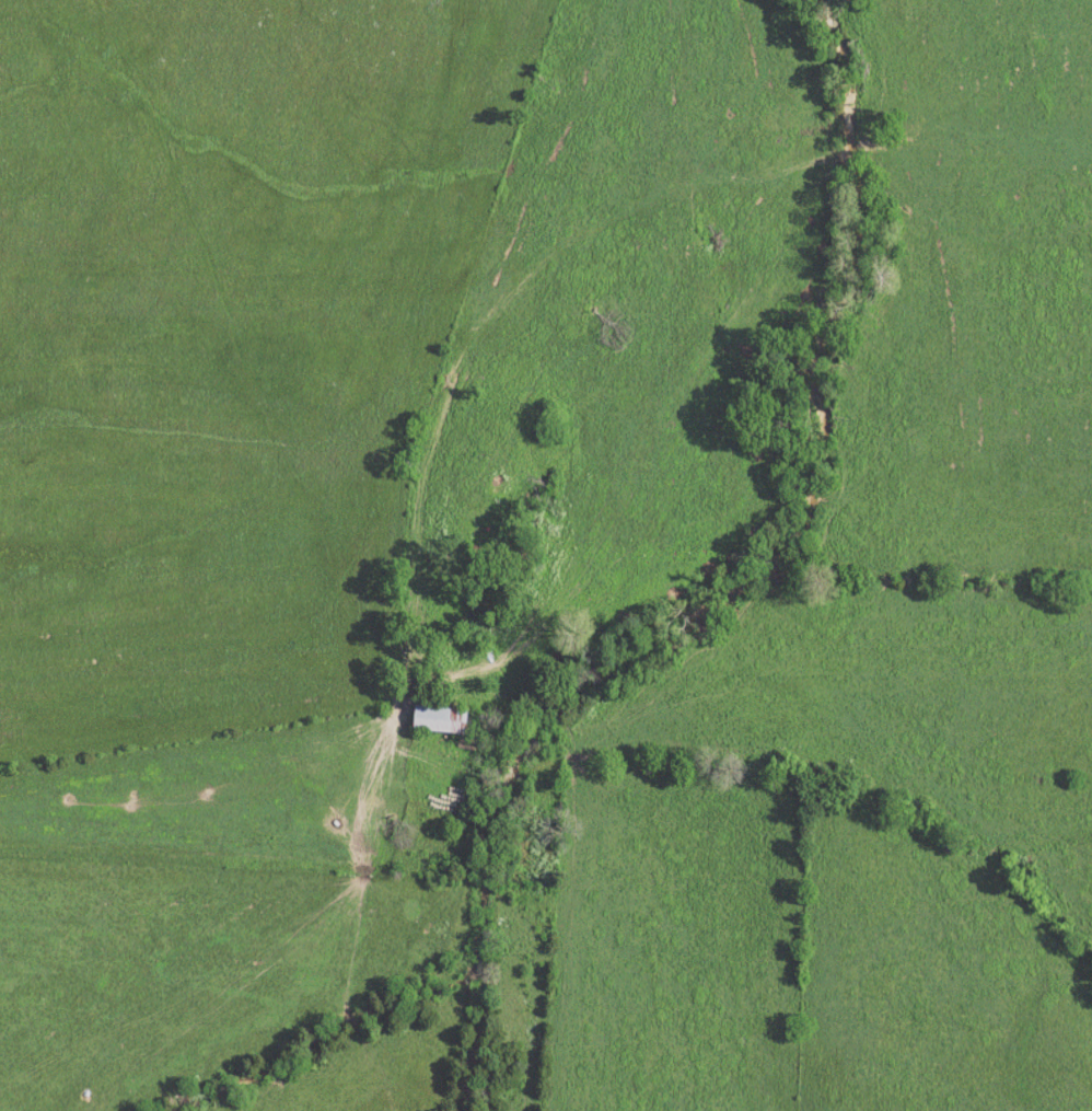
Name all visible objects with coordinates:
building: (429, 719)
road: (190, 744)

